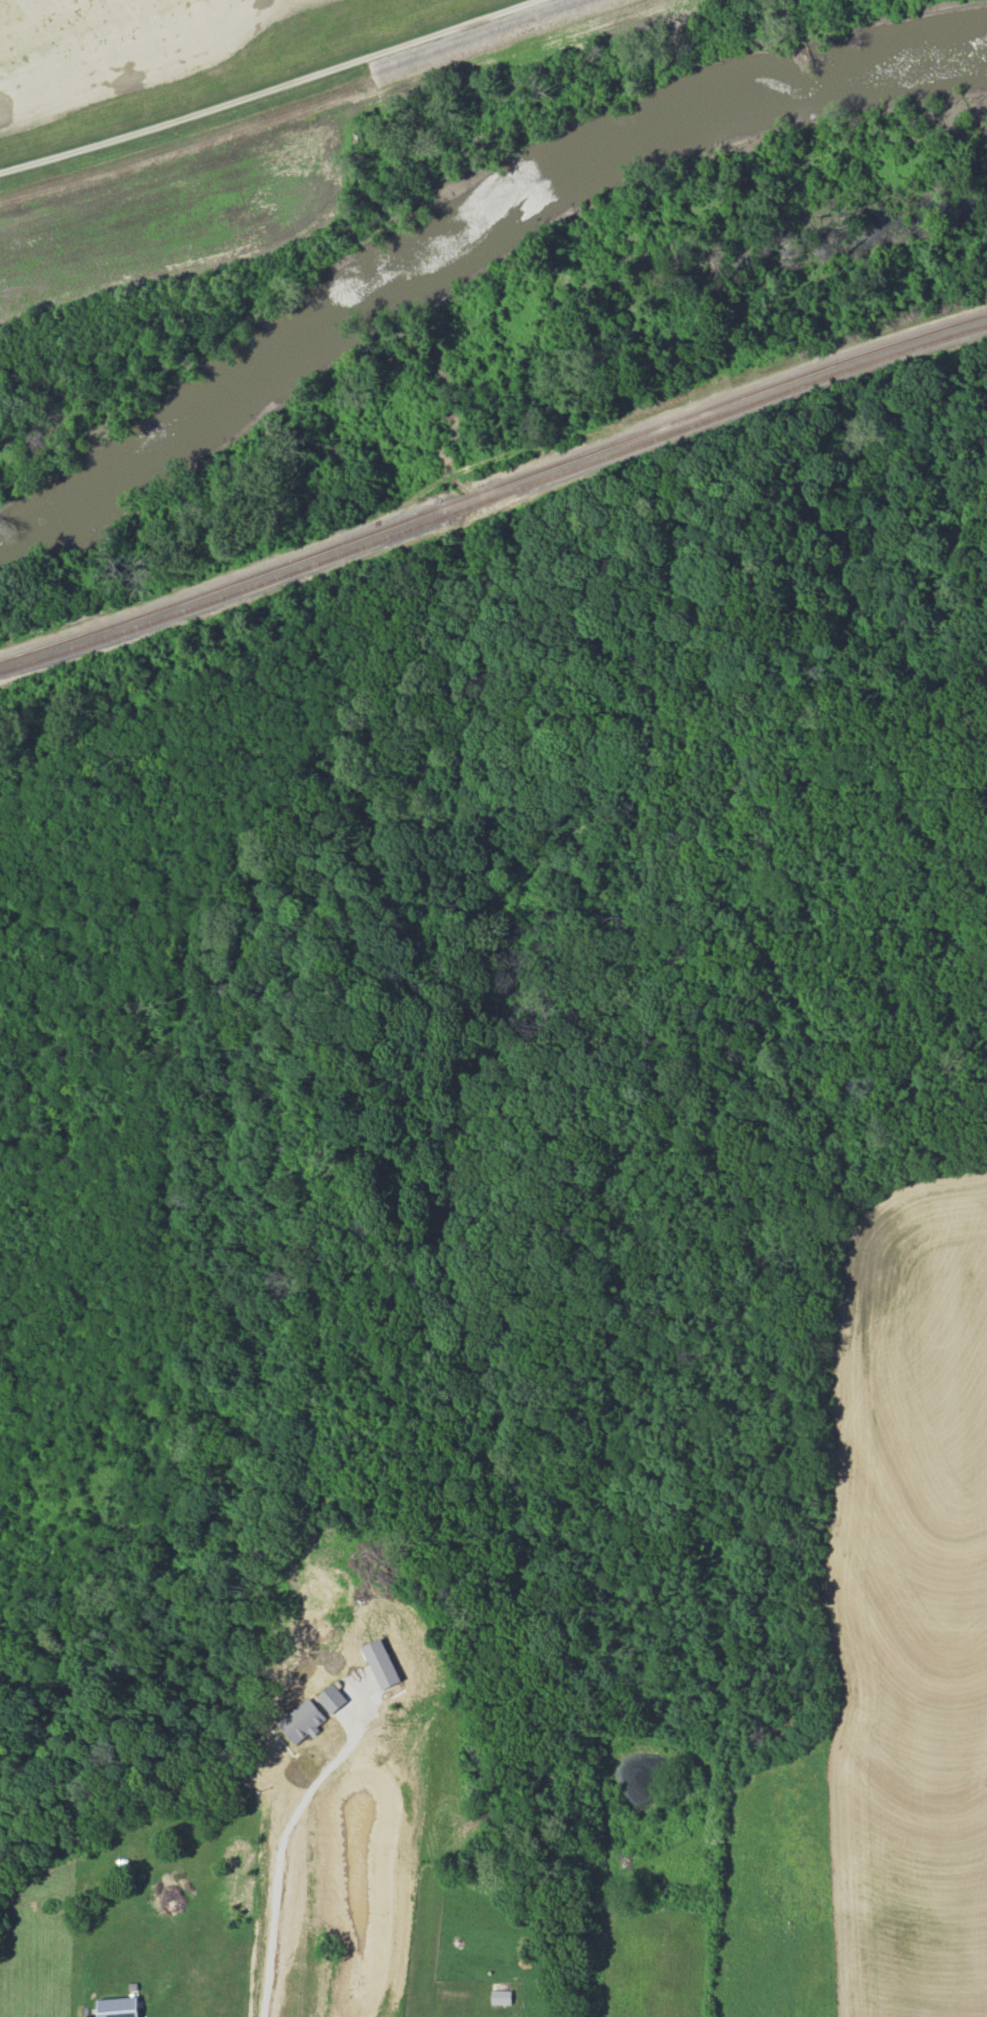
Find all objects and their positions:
crop: (107, 49)
road: (268, 89)
river: (463, 225)
railway: (494, 483)
railway: (494, 493)
crop: (883, 1648)
road: (280, 1853)
building: (501, 1996)
building: (119, 2007)

